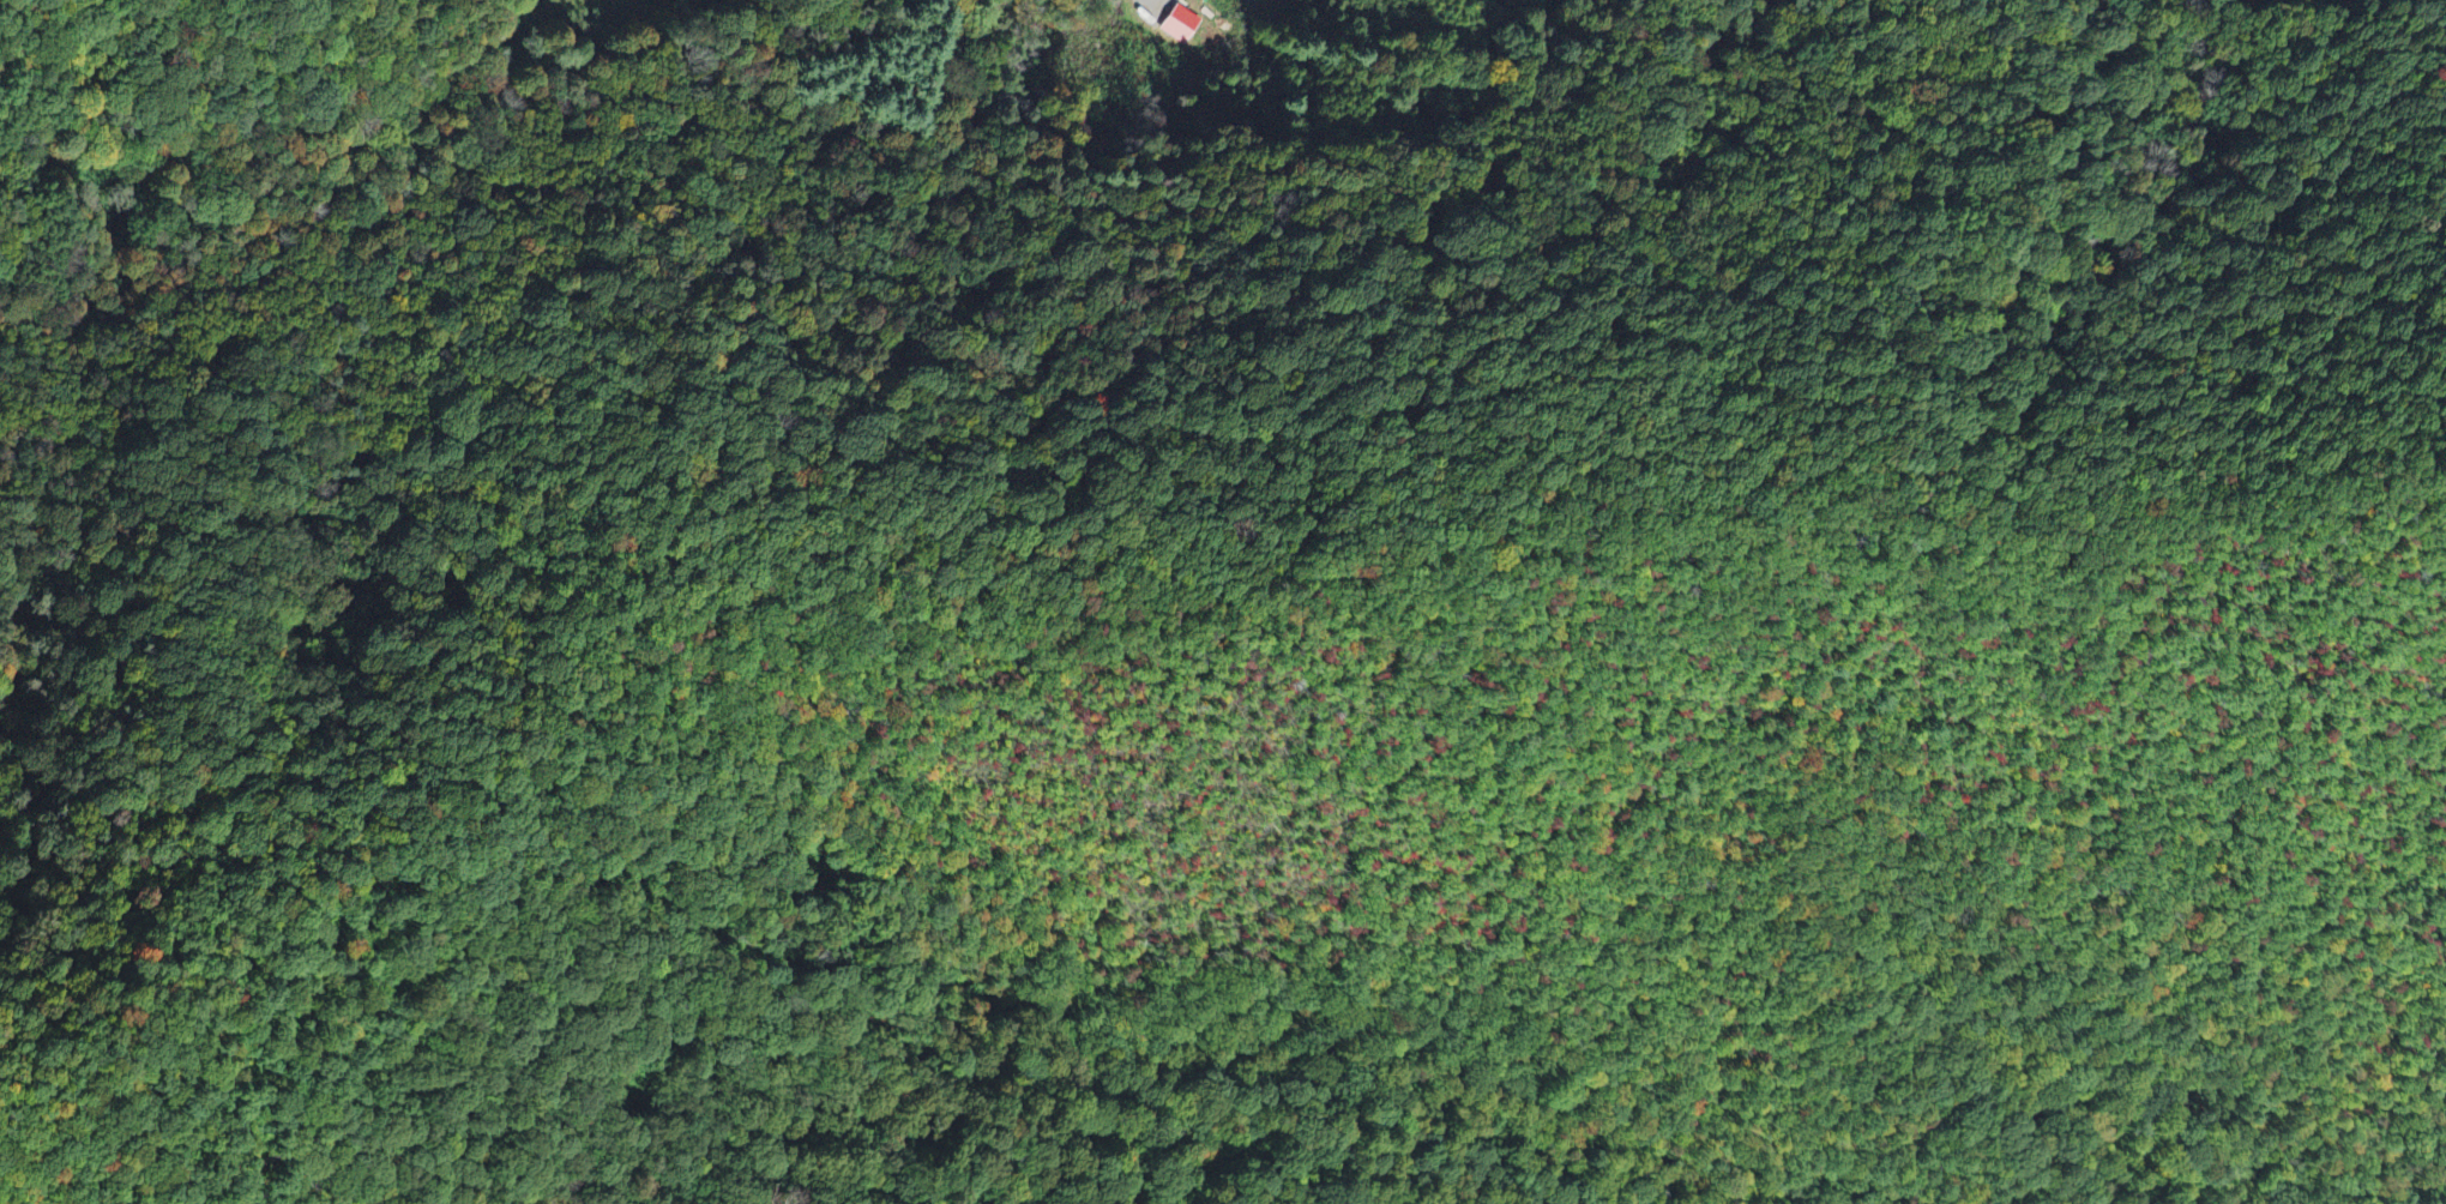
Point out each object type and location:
building: (1175, 22)

